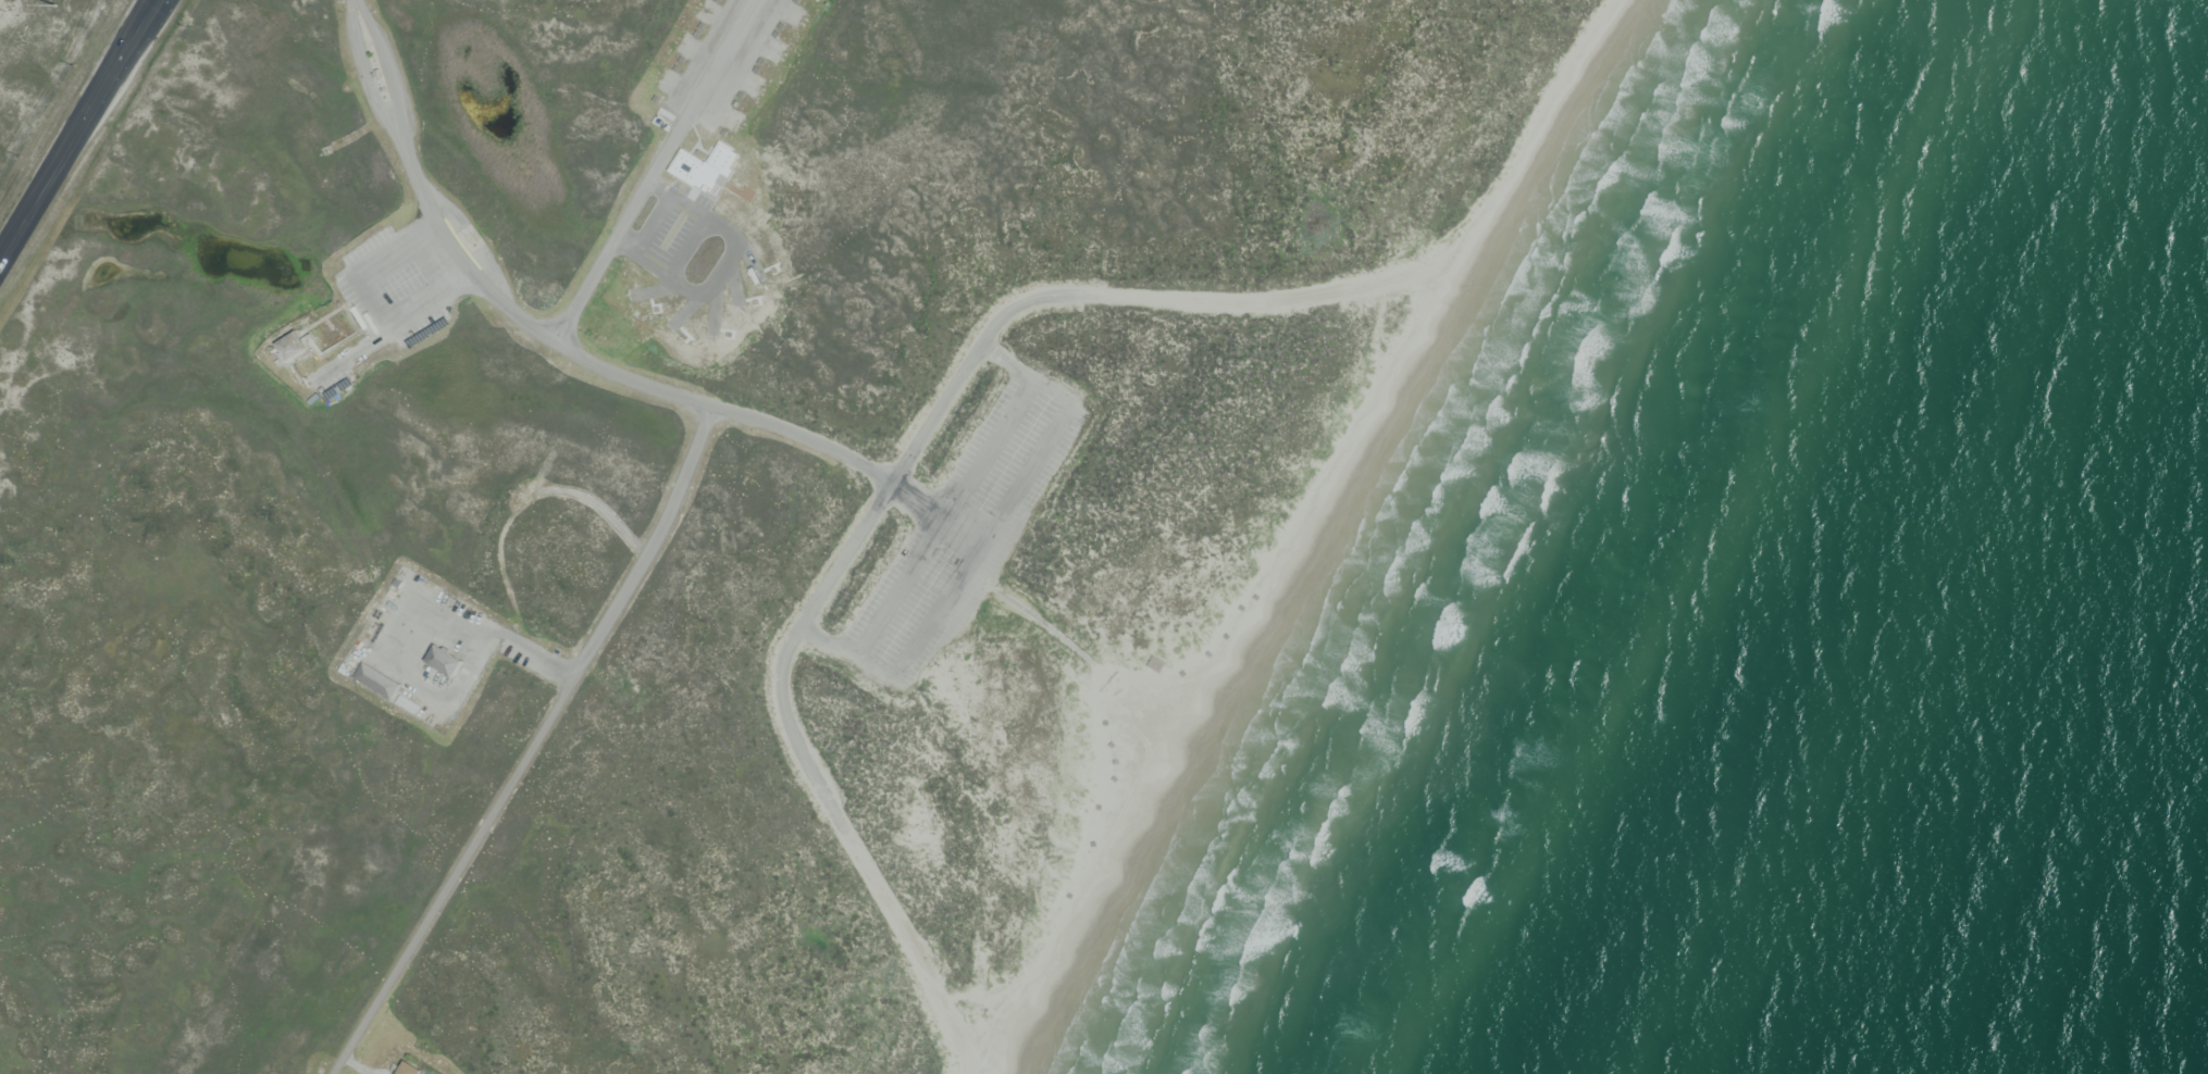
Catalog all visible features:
road: (161, 0)
power tower: (55, 5)
park: (37, 62)
toll booth: (384, 73)
toll booth: (370, 75)
road: (386, 79)
road: (372, 84)
road: (80, 136)
road: (655, 173)
parking lot: (677, 235)
road: (474, 241)
road: (466, 245)
parking lot: (390, 299)
building: (640, 302)
road: (1198, 303)
road: (345, 312)
road: (324, 320)
building: (288, 348)
road: (334, 349)
road: (662, 394)
road: (883, 496)
park: (832, 510)
parking lot: (962, 535)
road: (982, 548)
road: (1040, 562)
building: (1058, 600)
road: (492, 634)
parking lot: (432, 652)
building: (441, 664)
building: (376, 684)
road: (533, 746)
road: (861, 866)
road: (353, 1067)
building: (406, 1071)

